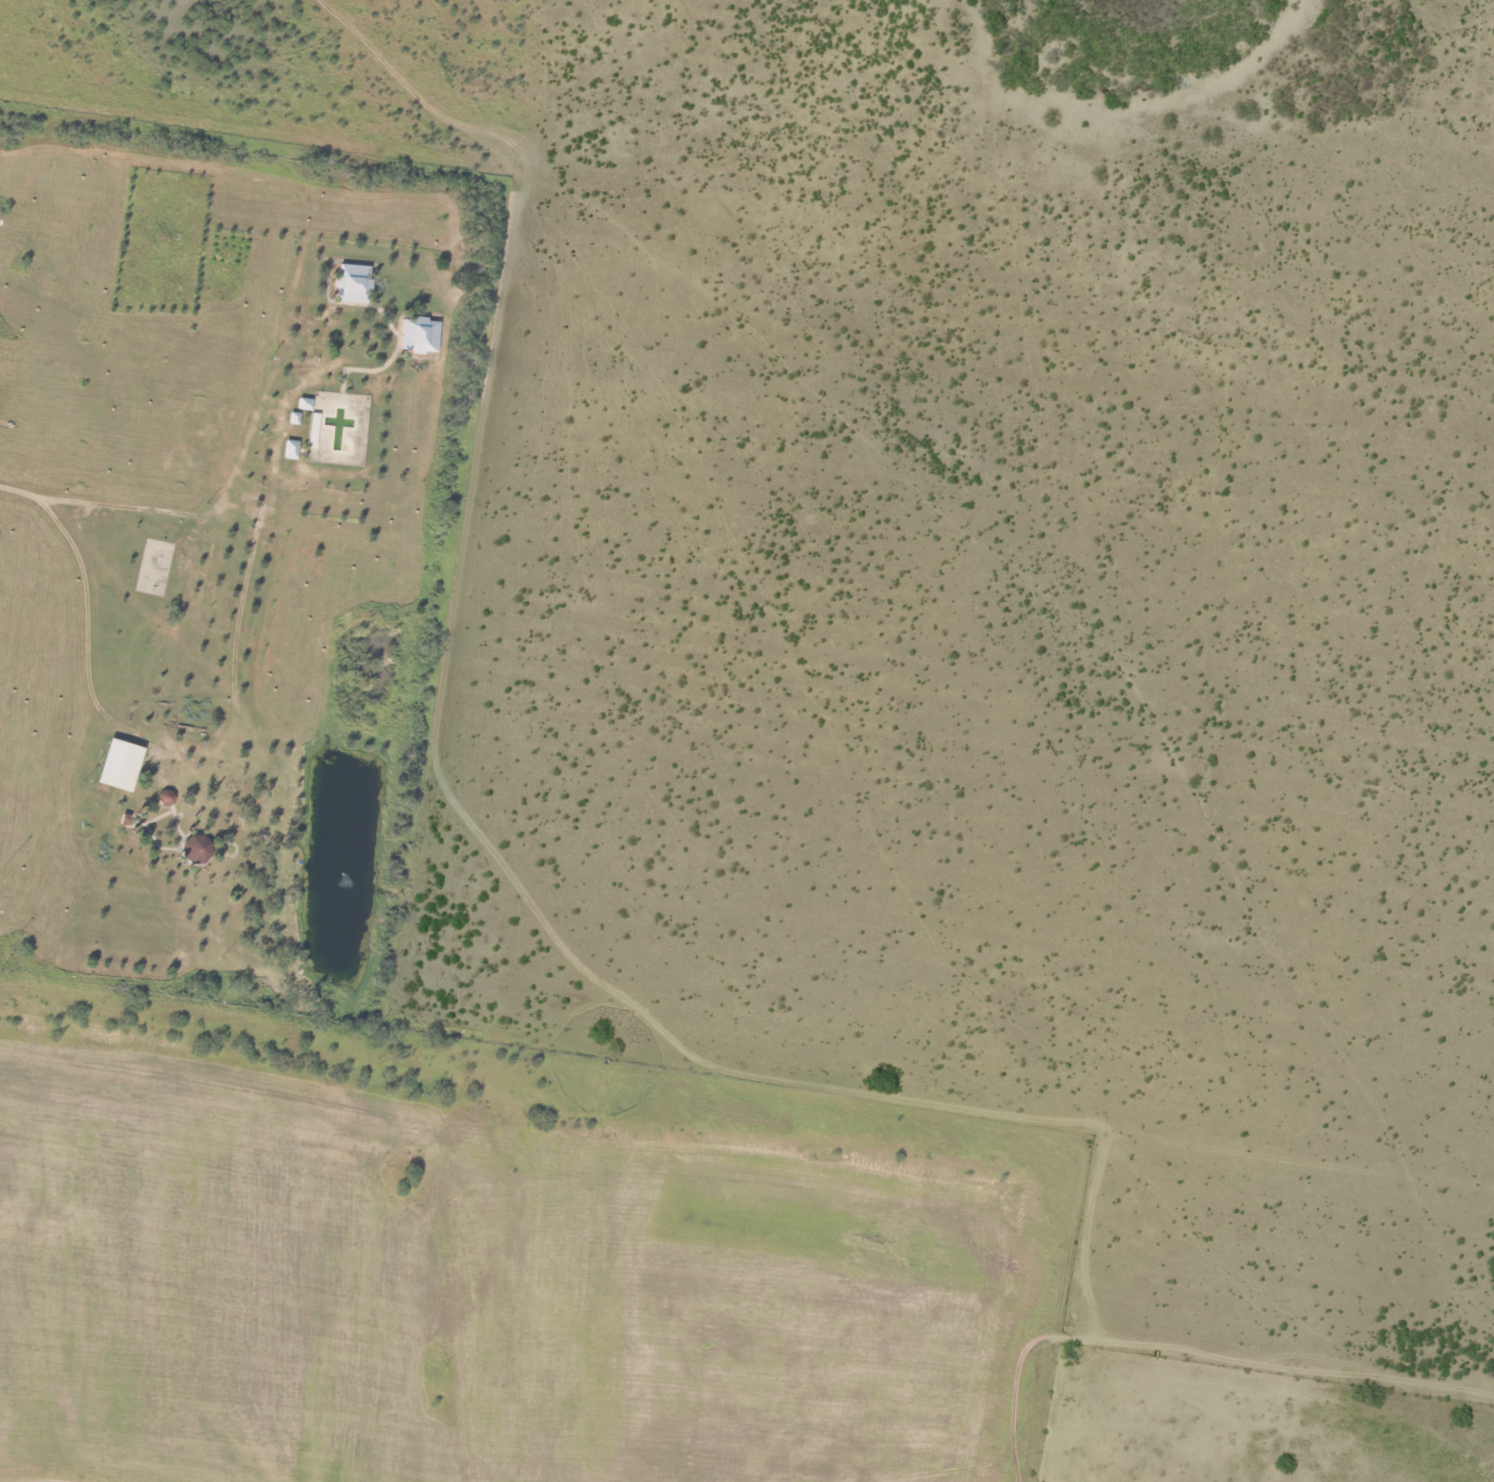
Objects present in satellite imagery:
building: (349, 283)
building: (415, 335)
building: (287, 449)
road: (103, 577)
building: (162, 797)
building: (191, 848)

